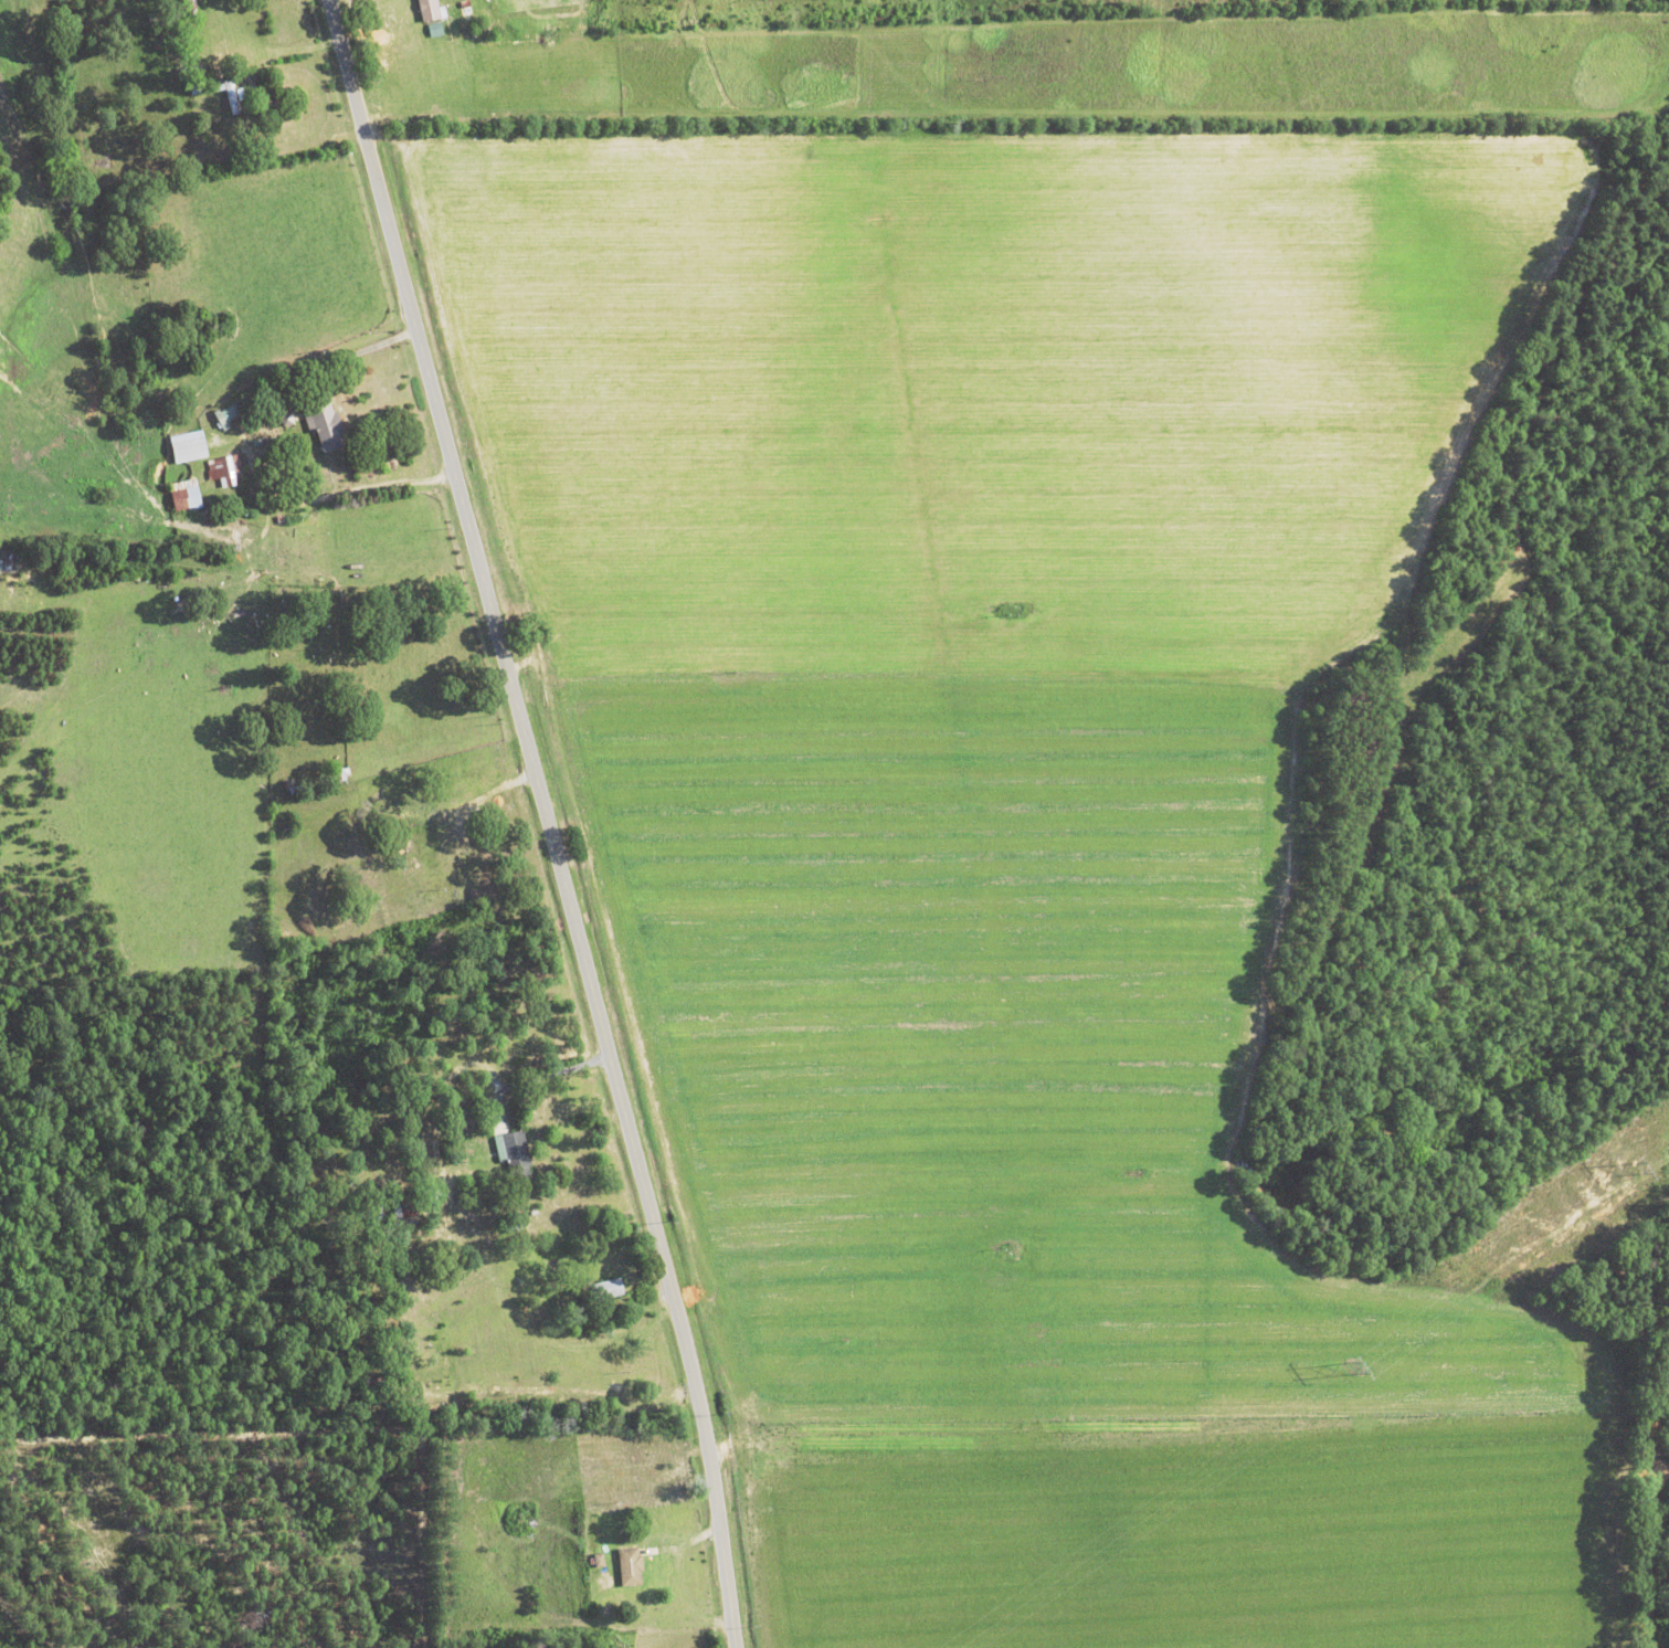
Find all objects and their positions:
building: (426, 10)
building: (228, 95)
road: (349, 355)
building: (228, 414)
building: (321, 423)
building: (186, 447)
building: (222, 468)
building: (182, 495)
building: (338, 774)
road: (542, 818)
building: (403, 839)
road: (538, 1074)
building: (514, 1159)
power tower: (1636, 1169)
building: (405, 1205)
building: (605, 1290)
power tower: (1353, 1370)
road: (1642, 1517)
building: (628, 1566)

